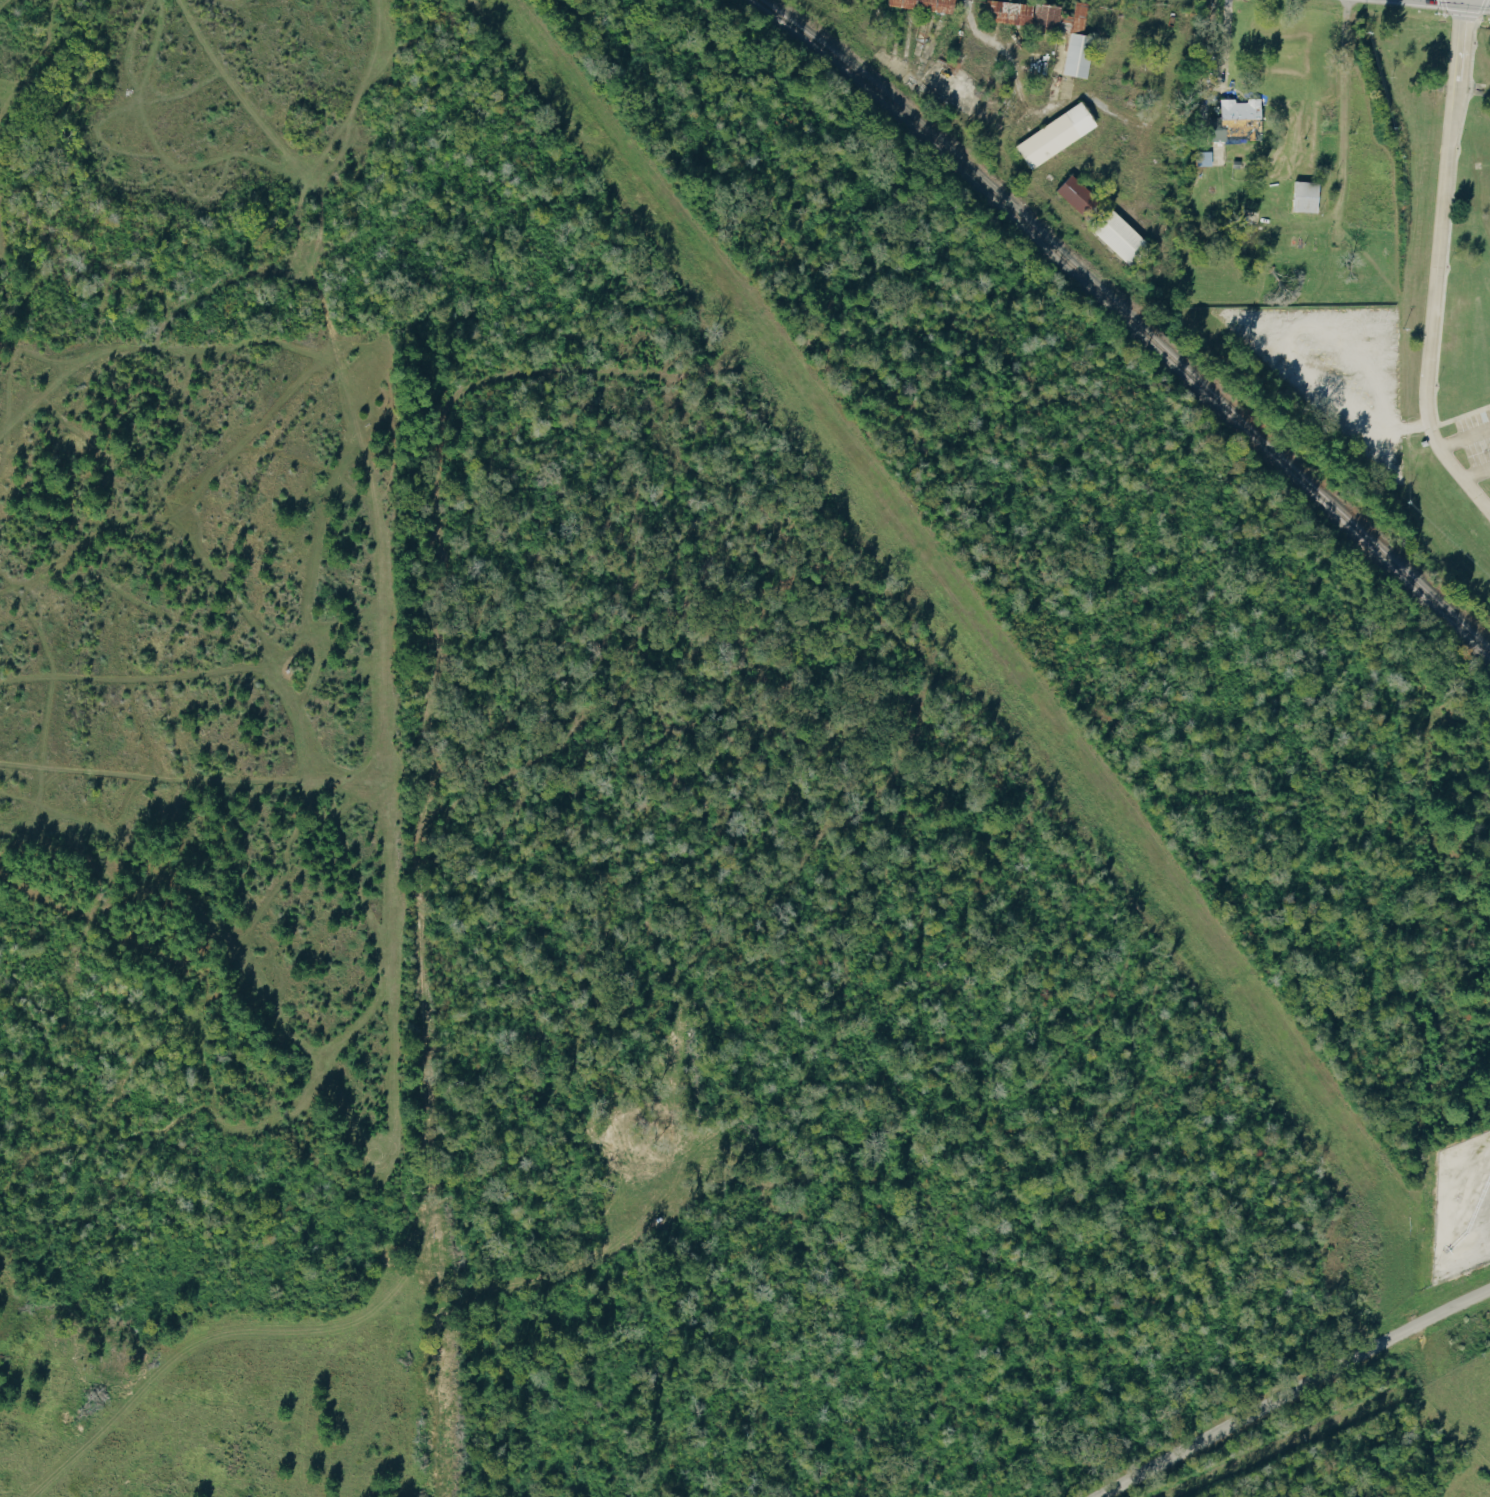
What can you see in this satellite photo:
building: (929, 5)
road: (1224, 43)
building: (1082, 56)
building: (1240, 120)
building: (1060, 136)
building: (1082, 197)
building: (1309, 197)
building: (1125, 239)
road: (1437, 265)
railway: (1128, 320)
road: (1285, 347)
road: (1464, 441)
parking lot: (1468, 455)
road: (1476, 472)
road: (1291, 1390)

